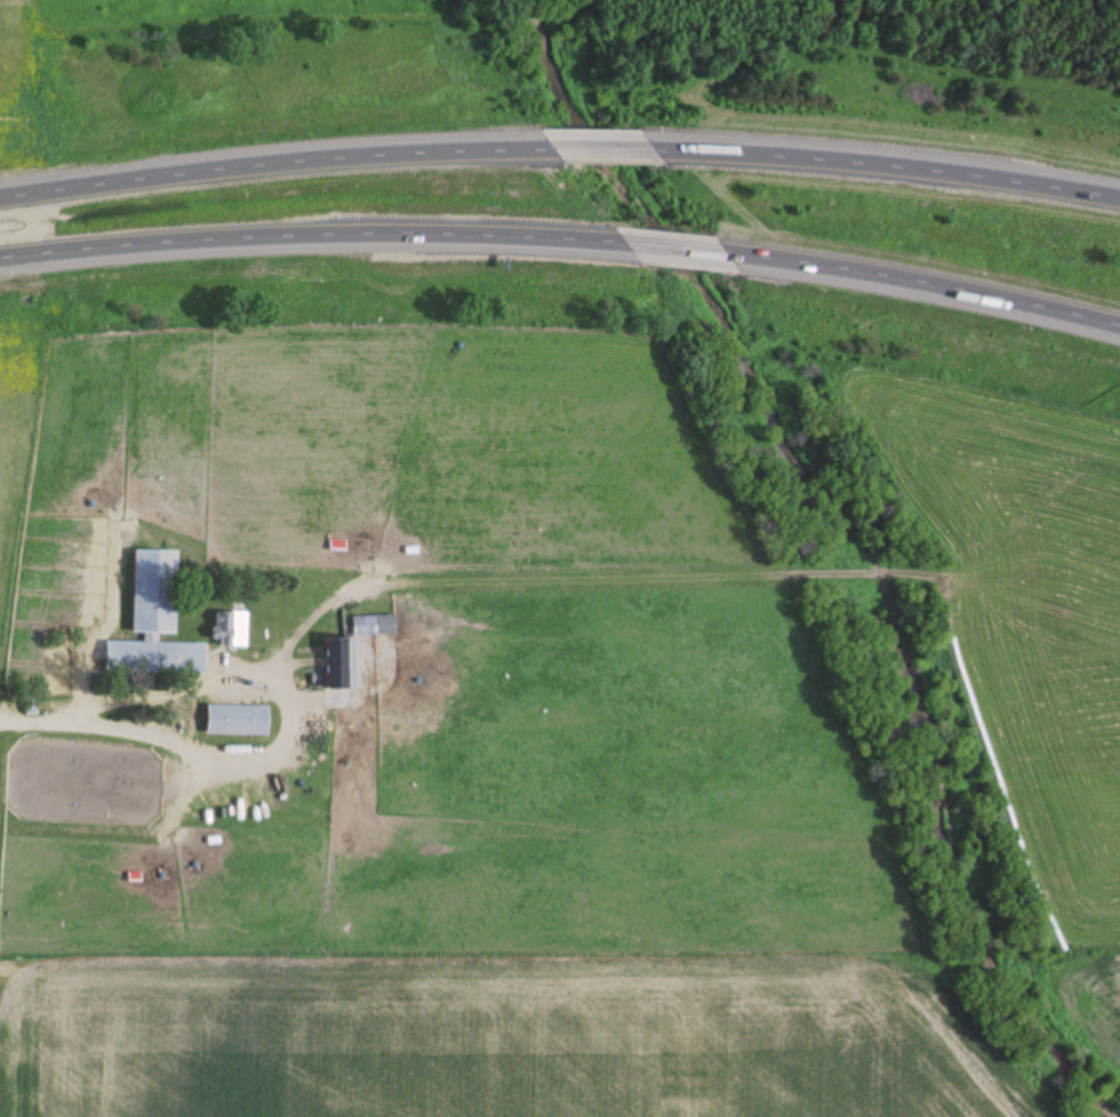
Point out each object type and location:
crop: (190, 12)
road: (604, 150)
road: (276, 163)
road: (888, 164)
road: (312, 235)
road: (678, 250)
road: (926, 282)
river: (858, 530)
building: (157, 622)
building: (377, 625)
building: (232, 629)
building: (339, 665)
road: (30, 719)
building: (241, 720)
road: (289, 724)

